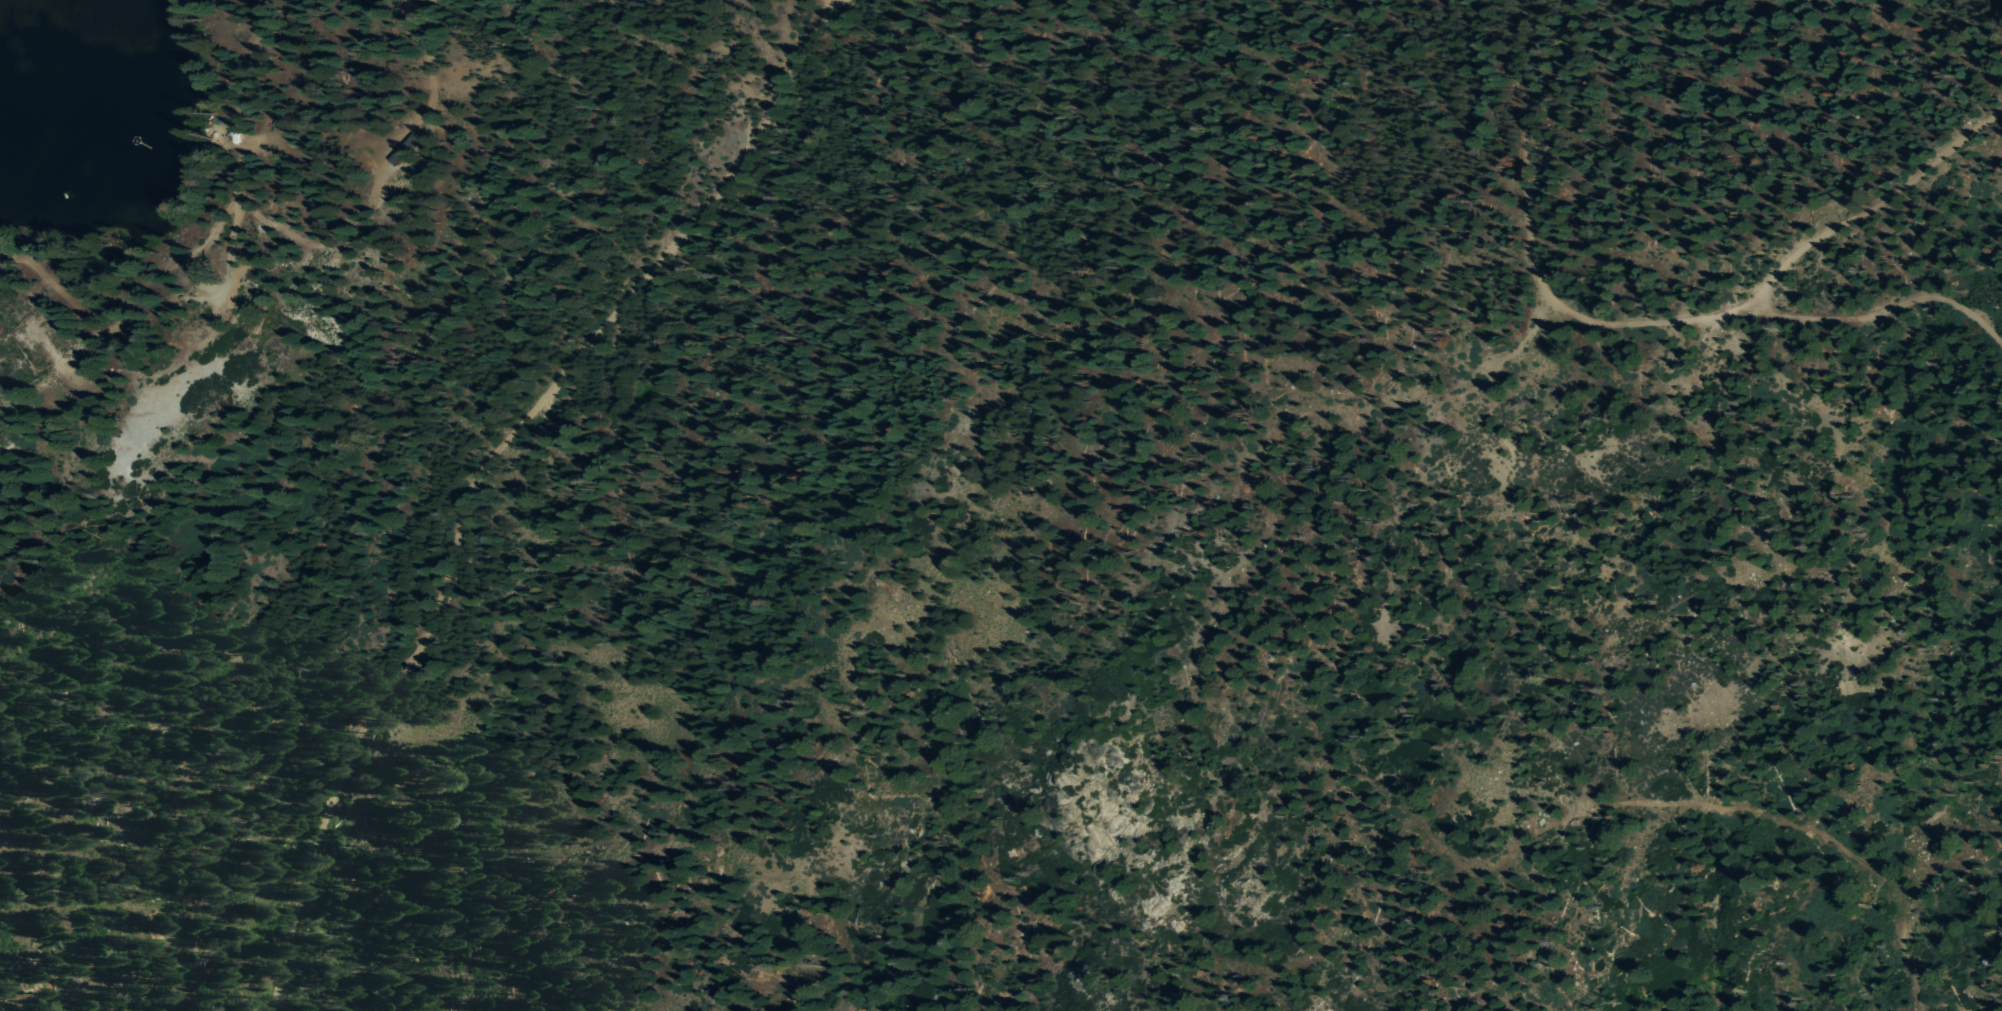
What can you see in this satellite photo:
road: (212, 239)
road: (1638, 316)
road: (449, 474)

